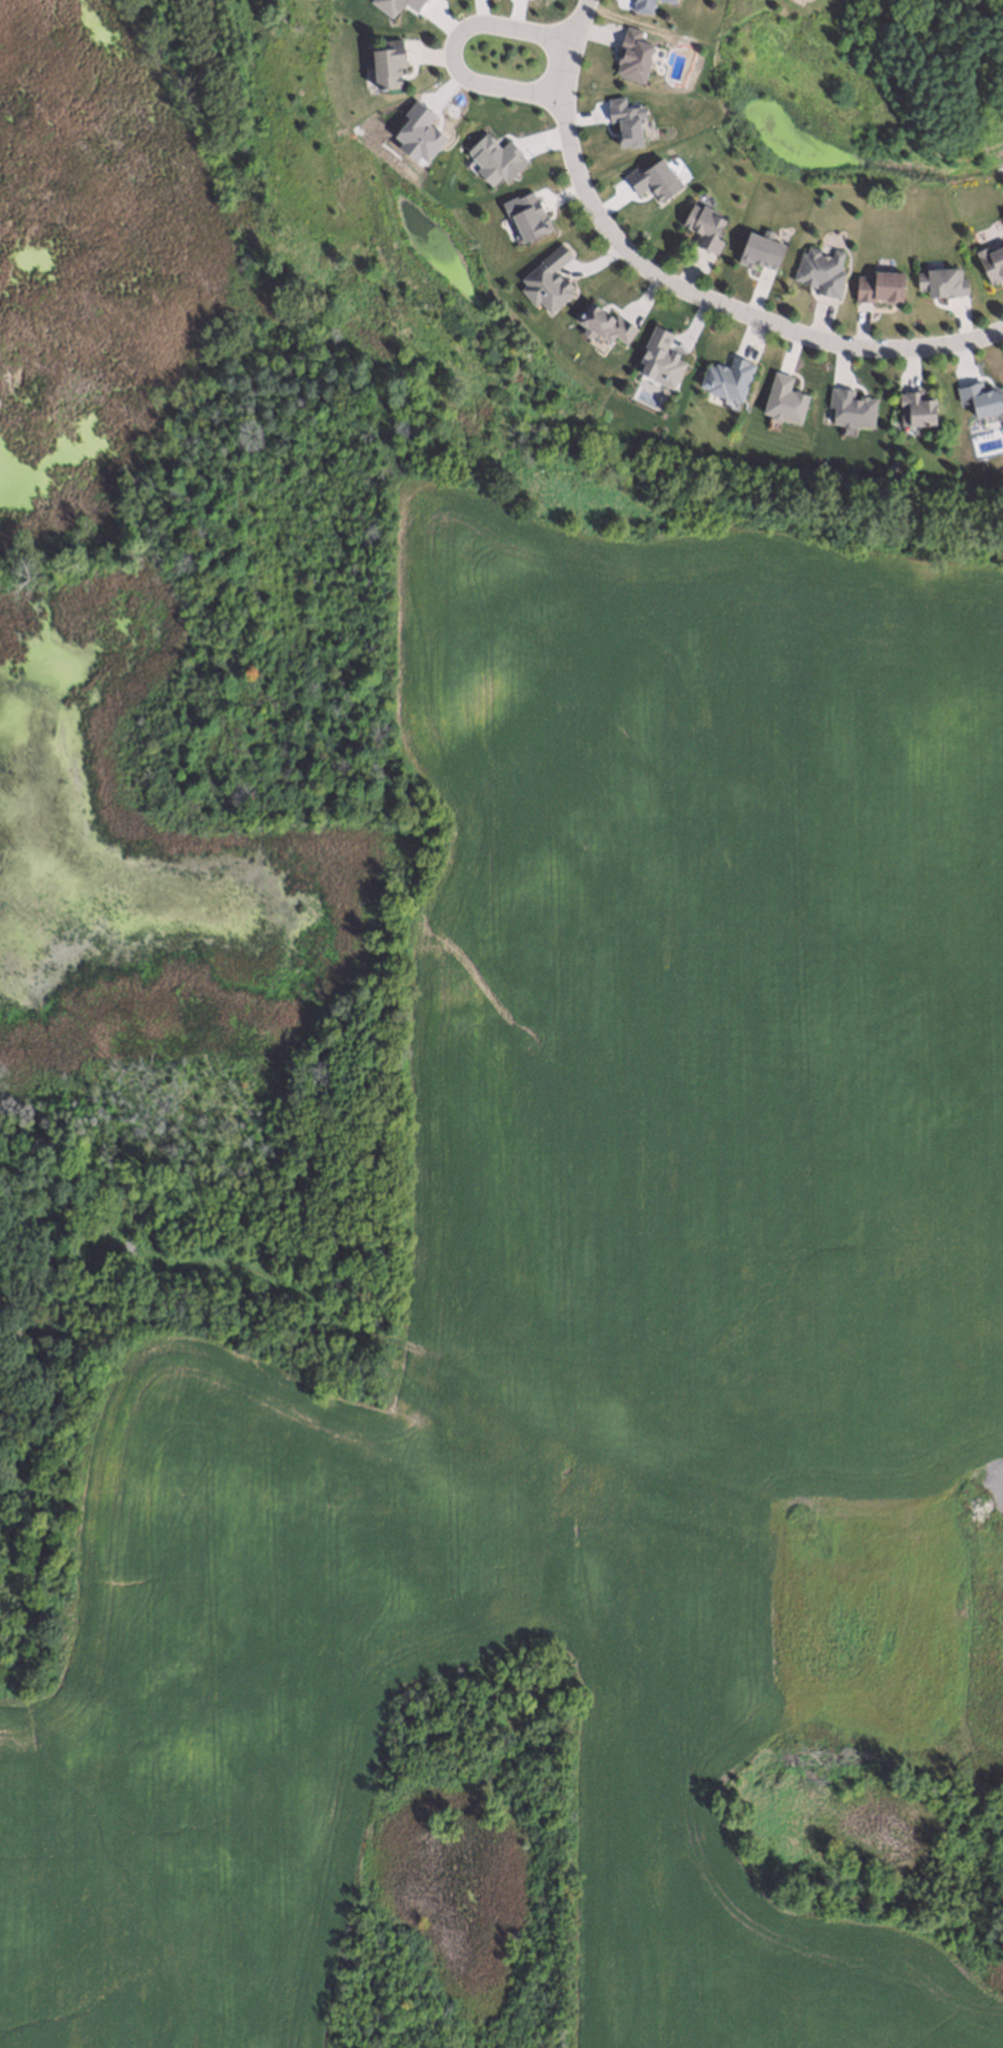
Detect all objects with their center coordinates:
building: (671, 0)
building: (676, 0)
building: (397, 4)
building: (641, 5)
road: (454, 45)
building: (631, 55)
building: (387, 64)
building: (624, 120)
building: (420, 134)
building: (497, 160)
building: (652, 177)
building: (528, 214)
building: (702, 226)
building: (760, 248)
building: (991, 261)
building: (818, 270)
building: (546, 280)
building: (940, 281)
road: (679, 283)
building: (878, 287)
building: (603, 322)
building: (659, 357)
building: (726, 377)
building: (978, 395)
building: (783, 397)
building: (851, 405)
building: (913, 408)
building: (891, 464)
building: (981, 1543)
building: (999, 1613)
building: (913, 1703)

